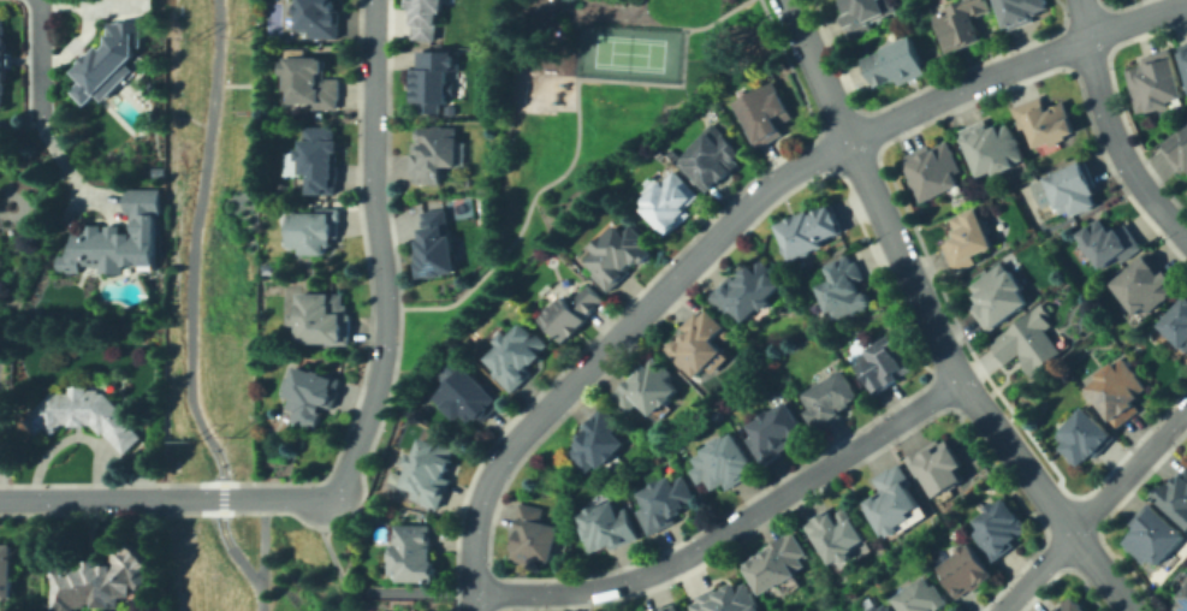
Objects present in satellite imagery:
building: (1020, 11)
building: (870, 13)
building: (320, 17)
building: (426, 18)
building: (961, 24)
park: (627, 51)
building: (1183, 53)
building: (5, 58)
building: (113, 58)
road: (41, 59)
building: (898, 63)
road: (1015, 63)
building: (438, 76)
building: (1156, 81)
building: (311, 83)
building: (447, 108)
building: (316, 113)
building: (765, 113)
building: (1056, 120)
park: (580, 123)
road: (1111, 130)
road: (576, 131)
building: (1177, 144)
building: (999, 149)
building: (439, 154)
building: (714, 155)
building: (320, 161)
building: (156, 171)
building: (934, 172)
building: (465, 182)
building: (1078, 188)
building: (667, 201)
building: (811, 229)
building: (311, 231)
park: (213, 235)
building: (123, 236)
building: (968, 241)
building: (1112, 241)
building: (438, 243)
road: (380, 253)
building: (625, 254)
building: (1144, 285)
building: (845, 287)
building: (753, 289)
building: (999, 296)
road: (191, 298)
building: (576, 309)
building: (325, 320)
road: (932, 321)
building: (1176, 325)
building: (704, 339)
building: (1031, 342)
road: (611, 343)
building: (517, 355)
building: (886, 363)
building: (1118, 386)
building: (649, 388)
building: (471, 396)
building: (832, 399)
building: (314, 401)
building: (89, 415)
building: (778, 431)
building: (1086, 438)
building: (599, 441)
building: (723, 464)
building: (943, 465)
building: (433, 471)
building: (1174, 496)
building: (900, 497)
road: (165, 498)
building: (666, 502)
road: (1093, 509)
building: (609, 527)
building: (1002, 527)
road: (730, 528)
building: (842, 532)
building: (1155, 535)
building: (535, 536)
road: (261, 539)
building: (415, 552)
building: (779, 562)
park: (254, 563)
building: (966, 571)
building: (6, 573)
building: (100, 580)
road: (360, 589)
building: (1182, 593)
road: (260, 595)
building: (924, 597)
building: (732, 598)
building: (1182, 603)
building: (1070, 605)
building: (671, 606)
building: (888, 609)

